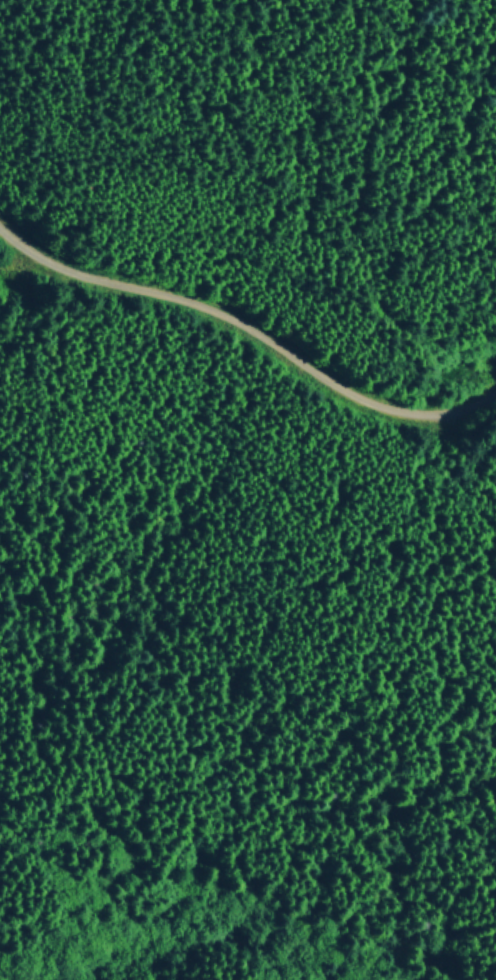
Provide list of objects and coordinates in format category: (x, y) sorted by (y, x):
road: (252, 326)

